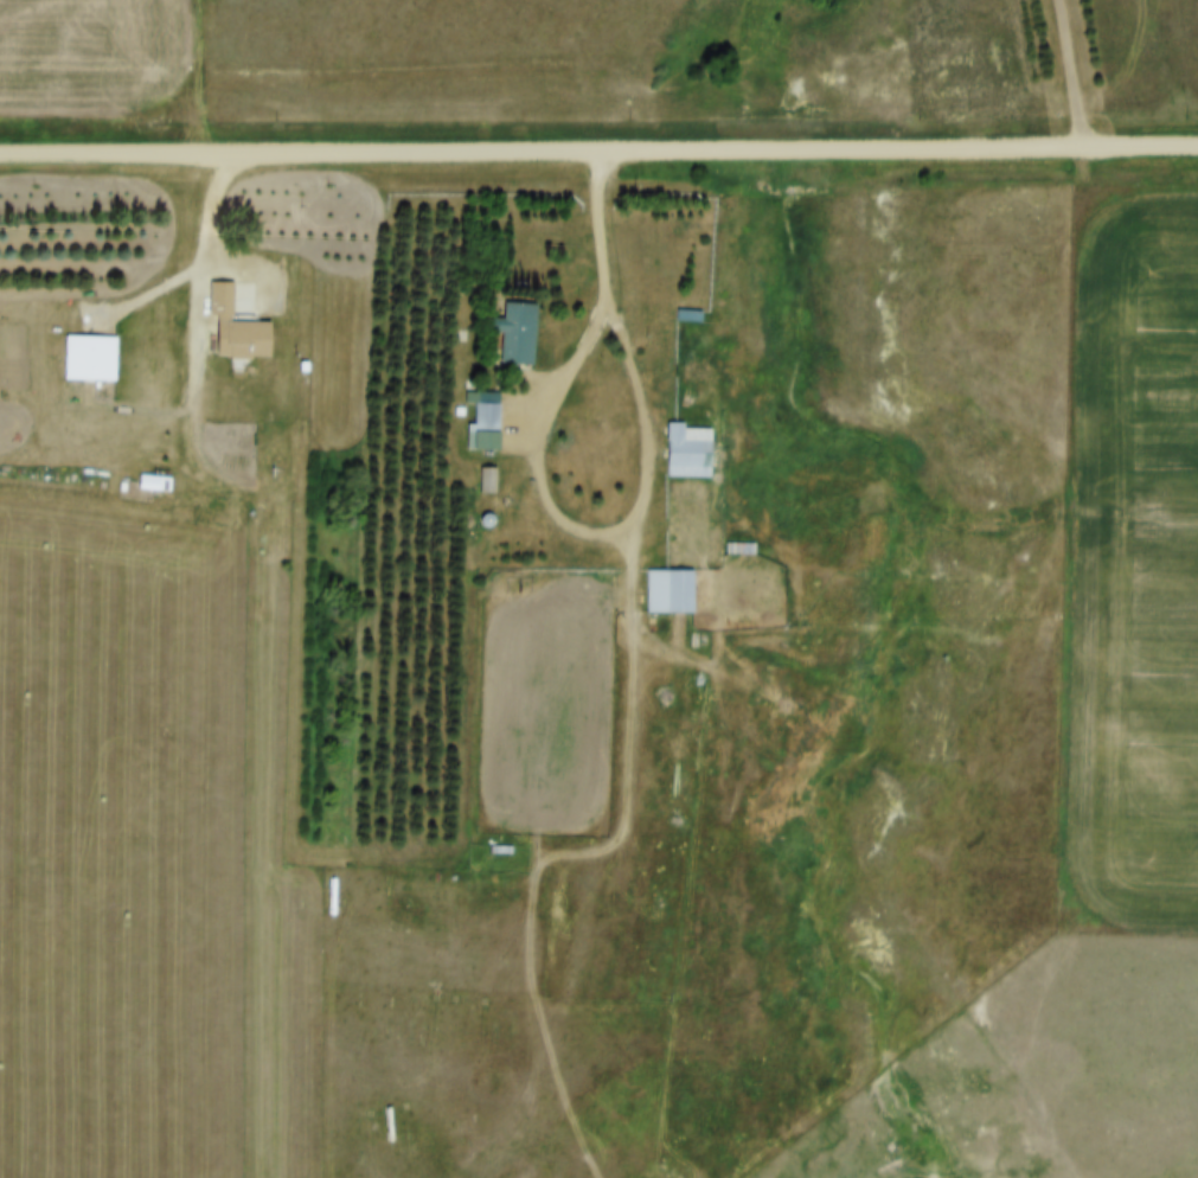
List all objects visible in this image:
road: (1071, 76)
road: (598, 155)
road: (201, 265)
building: (239, 318)
building: (519, 322)
building: (92, 347)
building: (487, 414)
building: (692, 441)
building: (488, 470)
road: (647, 487)
building: (672, 581)
road: (635, 732)

